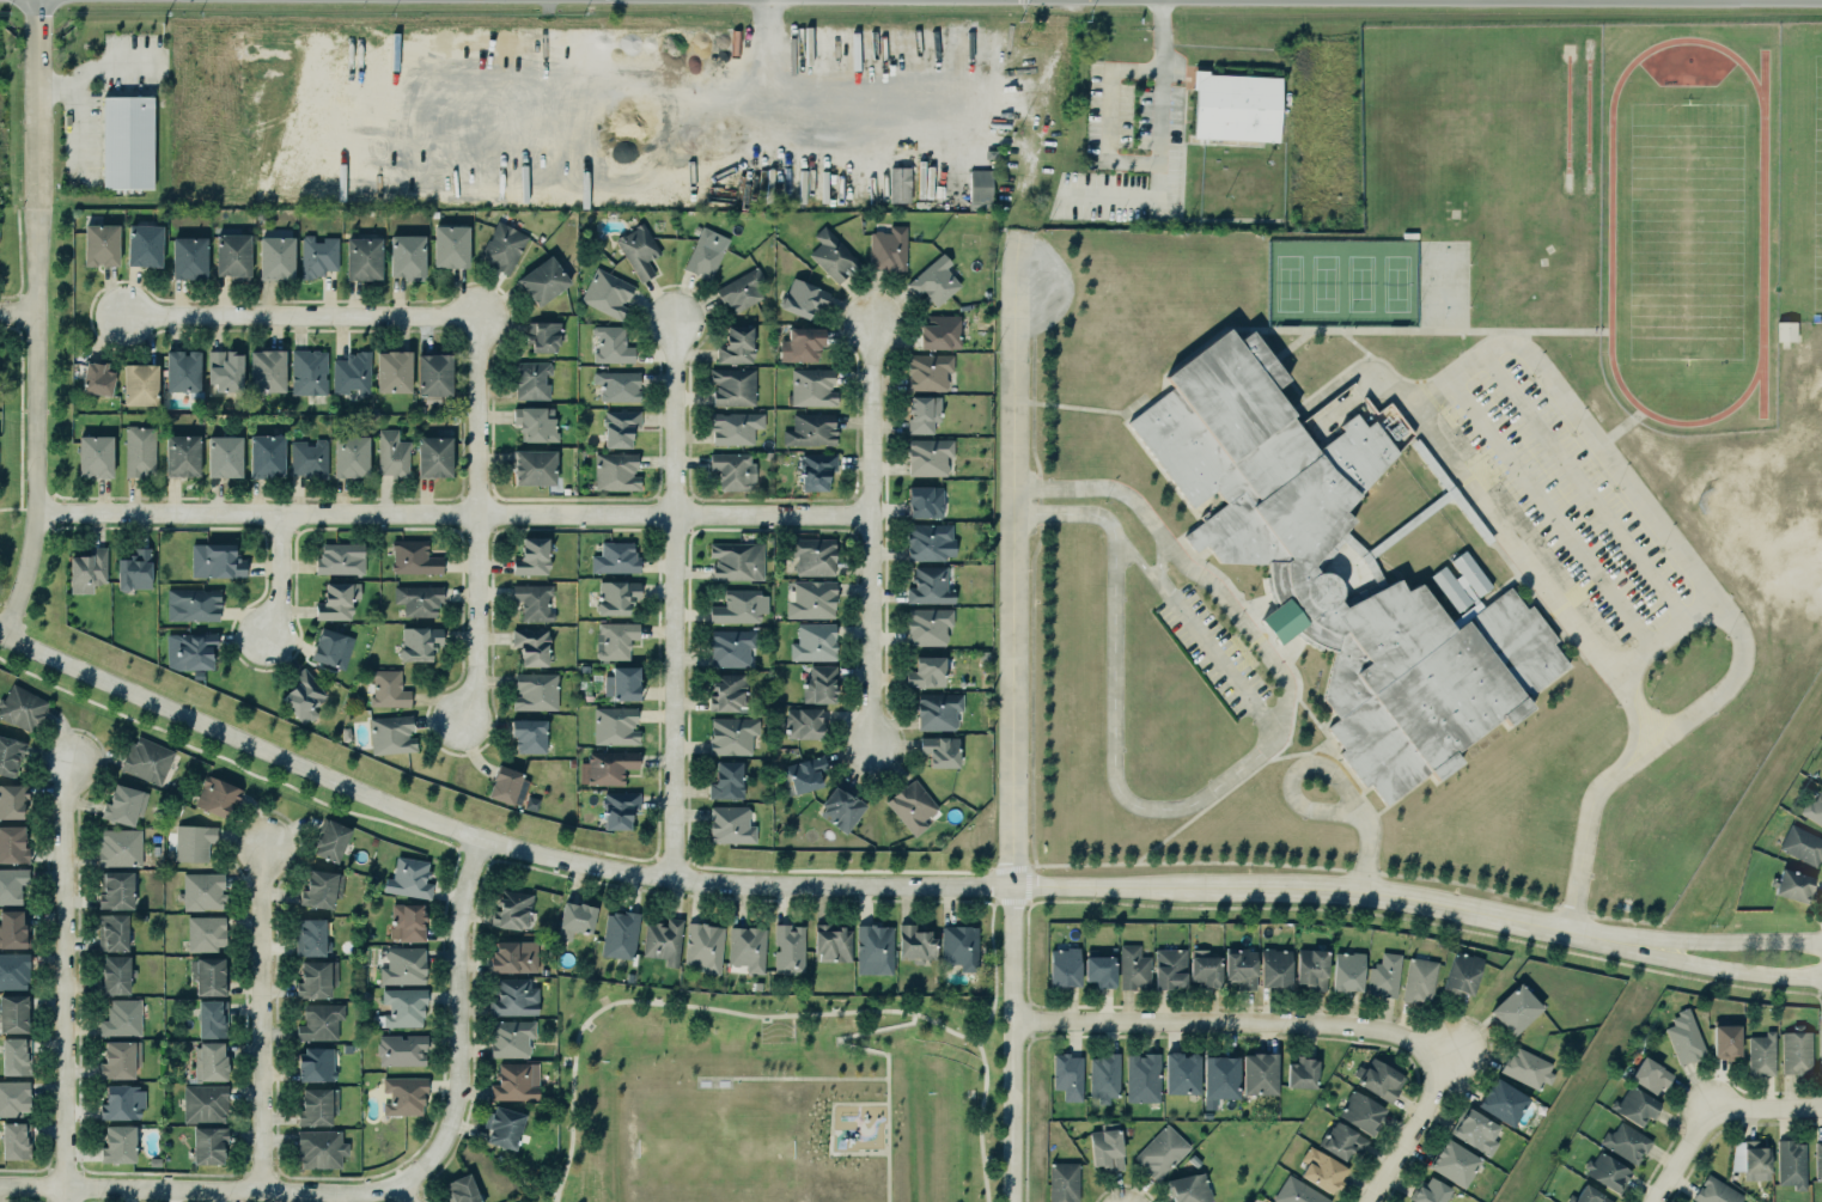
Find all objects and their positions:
road: (114, 61)
road: (824, 108)
building: (1237, 108)
road: (75, 109)
road: (1111, 116)
building: (128, 144)
road: (1163, 145)
building: (988, 153)
building: (900, 184)
building: (977, 185)
track: (1763, 227)
building: (449, 243)
building: (100, 244)
building: (144, 245)
building: (501, 245)
building: (886, 248)
building: (639, 250)
building: (232, 252)
building: (703, 252)
building: (318, 255)
building: (278, 256)
building: (362, 256)
building: (407, 256)
building: (833, 256)
building: (188, 257)
building: (542, 277)
building: (932, 279)
park: (1290, 282)
park: (1324, 282)
park: (1360, 282)
park: (1396, 282)
building: (741, 288)
building: (608, 292)
building: (804, 298)
road: (19, 313)
road: (303, 316)
road: (38, 322)
building: (1786, 331)
building: (940, 332)
building: (542, 334)
building: (799, 342)
building: (735, 343)
building: (611, 344)
building: (264, 368)
building: (181, 370)
building: (225, 370)
building: (309, 371)
building: (392, 371)
building: (928, 371)
building: (352, 373)
building: (433, 373)
building: (96, 376)
building: (530, 379)
building: (139, 383)
building: (617, 384)
building: (733, 386)
building: (811, 388)
building: (921, 411)
building: (535, 422)
building: (618, 426)
building: (732, 426)
building: (811, 429)
building: (139, 450)
building: (93, 453)
building: (391, 453)
building: (182, 454)
building: (266, 454)
building: (928, 454)
building: (224, 456)
building: (352, 456)
building: (433, 456)
building: (307, 457)
building: (534, 466)
building: (732, 468)
building: (815, 469)
building: (614, 470)
road: (1585, 488)
building: (925, 501)
road: (20, 508)
road: (1552, 512)
road: (456, 513)
road: (477, 520)
road: (1499, 521)
road: (872, 533)
building: (928, 539)
building: (530, 555)
building: (615, 556)
building: (813, 556)
road: (1134, 556)
building: (340, 557)
building: (413, 557)
road: (1158, 559)
building: (215, 560)
building: (737, 561)
building: (1290, 566)
building: (133, 567)
building: (87, 569)
road: (280, 575)
road: (1707, 584)
building: (930, 586)
building: (616, 597)
building: (336, 598)
building: (810, 598)
building: (419, 599)
building: (532, 600)
building: (191, 603)
road: (676, 603)
building: (741, 606)
building: (928, 623)
road: (1666, 635)
building: (615, 640)
building: (812, 640)
building: (419, 641)
building: (530, 643)
building: (327, 645)
building: (731, 647)
building: (189, 651)
road: (1219, 660)
building: (925, 670)
building: (621, 681)
building: (817, 682)
building: (385, 687)
building: (535, 691)
building: (727, 691)
building: (303, 694)
building: (22, 707)
building: (937, 709)
building: (803, 722)
building: (615, 726)
building: (390, 733)
building: (528, 733)
building: (732, 736)
road: (1013, 743)
building: (938, 749)
building: (10, 753)
building: (147, 759)
building: (605, 765)
road: (1294, 773)
building: (804, 776)
road: (1224, 779)
building: (727, 780)
building: (507, 785)
building: (217, 797)
building: (12, 799)
building: (122, 804)
building: (841, 805)
building: (910, 805)
building: (1812, 807)
building: (618, 809)
building: (729, 823)
building: (330, 840)
building: (12, 843)
building: (194, 843)
building: (1800, 843)
building: (121, 847)
road: (1364, 853)
building: (406, 874)
building: (12, 883)
building: (1791, 884)
building: (321, 886)
building: (115, 889)
road: (780, 889)
building: (201, 890)
building: (510, 908)
building: (574, 919)
building: (407, 920)
building: (13, 929)
building: (112, 932)
building: (203, 932)
building: (309, 935)
building: (620, 935)
building: (662, 938)
building: (914, 942)
road: (1712, 942)
building: (705, 944)
building: (833, 944)
building: (745, 946)
building: (961, 946)
building: (790, 948)
building: (875, 950)
building: (513, 956)
road: (995, 963)
building: (402, 965)
road: (1711, 965)
building: (1345, 966)
building: (1065, 968)
building: (1133, 968)
building: (1205, 968)
building: (1241, 968)
building: (1276, 968)
building: (1098, 969)
building: (1170, 969)
building: (1312, 969)
building: (13, 970)
building: (1462, 972)
building: (115, 974)
building: (207, 974)
building: (1383, 974)
road: (66, 976)
building: (316, 977)
building: (1418, 978)
road: (459, 996)
building: (514, 997)
building: (402, 1006)
building: (1516, 1009)
building: (13, 1013)
road: (770, 1015)
building: (211, 1017)
building: (121, 1018)
road: (264, 1020)
building: (319, 1021)
road: (1230, 1021)
building: (507, 1035)
building: (1684, 1037)
building: (1725, 1039)
building: (402, 1050)
building: (1761, 1052)
building: (1797, 1052)
building: (13, 1054)
road: (889, 1056)
road: (1445, 1056)
building: (120, 1058)
building: (208, 1060)
building: (315, 1063)
building: (1525, 1067)
building: (1300, 1070)
building: (1181, 1072)
building: (1259, 1072)
building: (1067, 1073)
building: (1103, 1075)
building: (1142, 1075)
road: (792, 1076)
building: (1651, 1076)
building: (1378, 1078)
building: (1219, 1079)
building: (514, 1081)
building: (13, 1093)
building: (403, 1094)
park: (773, 1096)
building: (202, 1098)
building: (121, 1100)
building: (1501, 1100)
building: (316, 1105)
building: (1635, 1106)
building: (1360, 1110)
road: (1767, 1110)
building: (504, 1127)
road: (831, 1128)
building: (1473, 1129)
road: (1409, 1134)
building: (14, 1137)
building: (1342, 1141)
building: (116, 1142)
building: (207, 1142)
building: (1627, 1142)
park: (711, 1145)
building: (319, 1148)
building: (1105, 1148)
building: (1160, 1151)
road: (1683, 1155)
building: (1751, 1159)
building: (1452, 1160)
building: (1818, 1160)
building: (1790, 1163)
building: (1322, 1170)
building: (1608, 1171)
building: (1061, 1180)
building: (1189, 1188)
building: (461, 1189)
road: (225, 1190)
road: (408, 1190)
building: (1294, 1190)
building: (1430, 1191)
building: (1716, 1191)
road: (68, 1194)
building: (1591, 1196)

